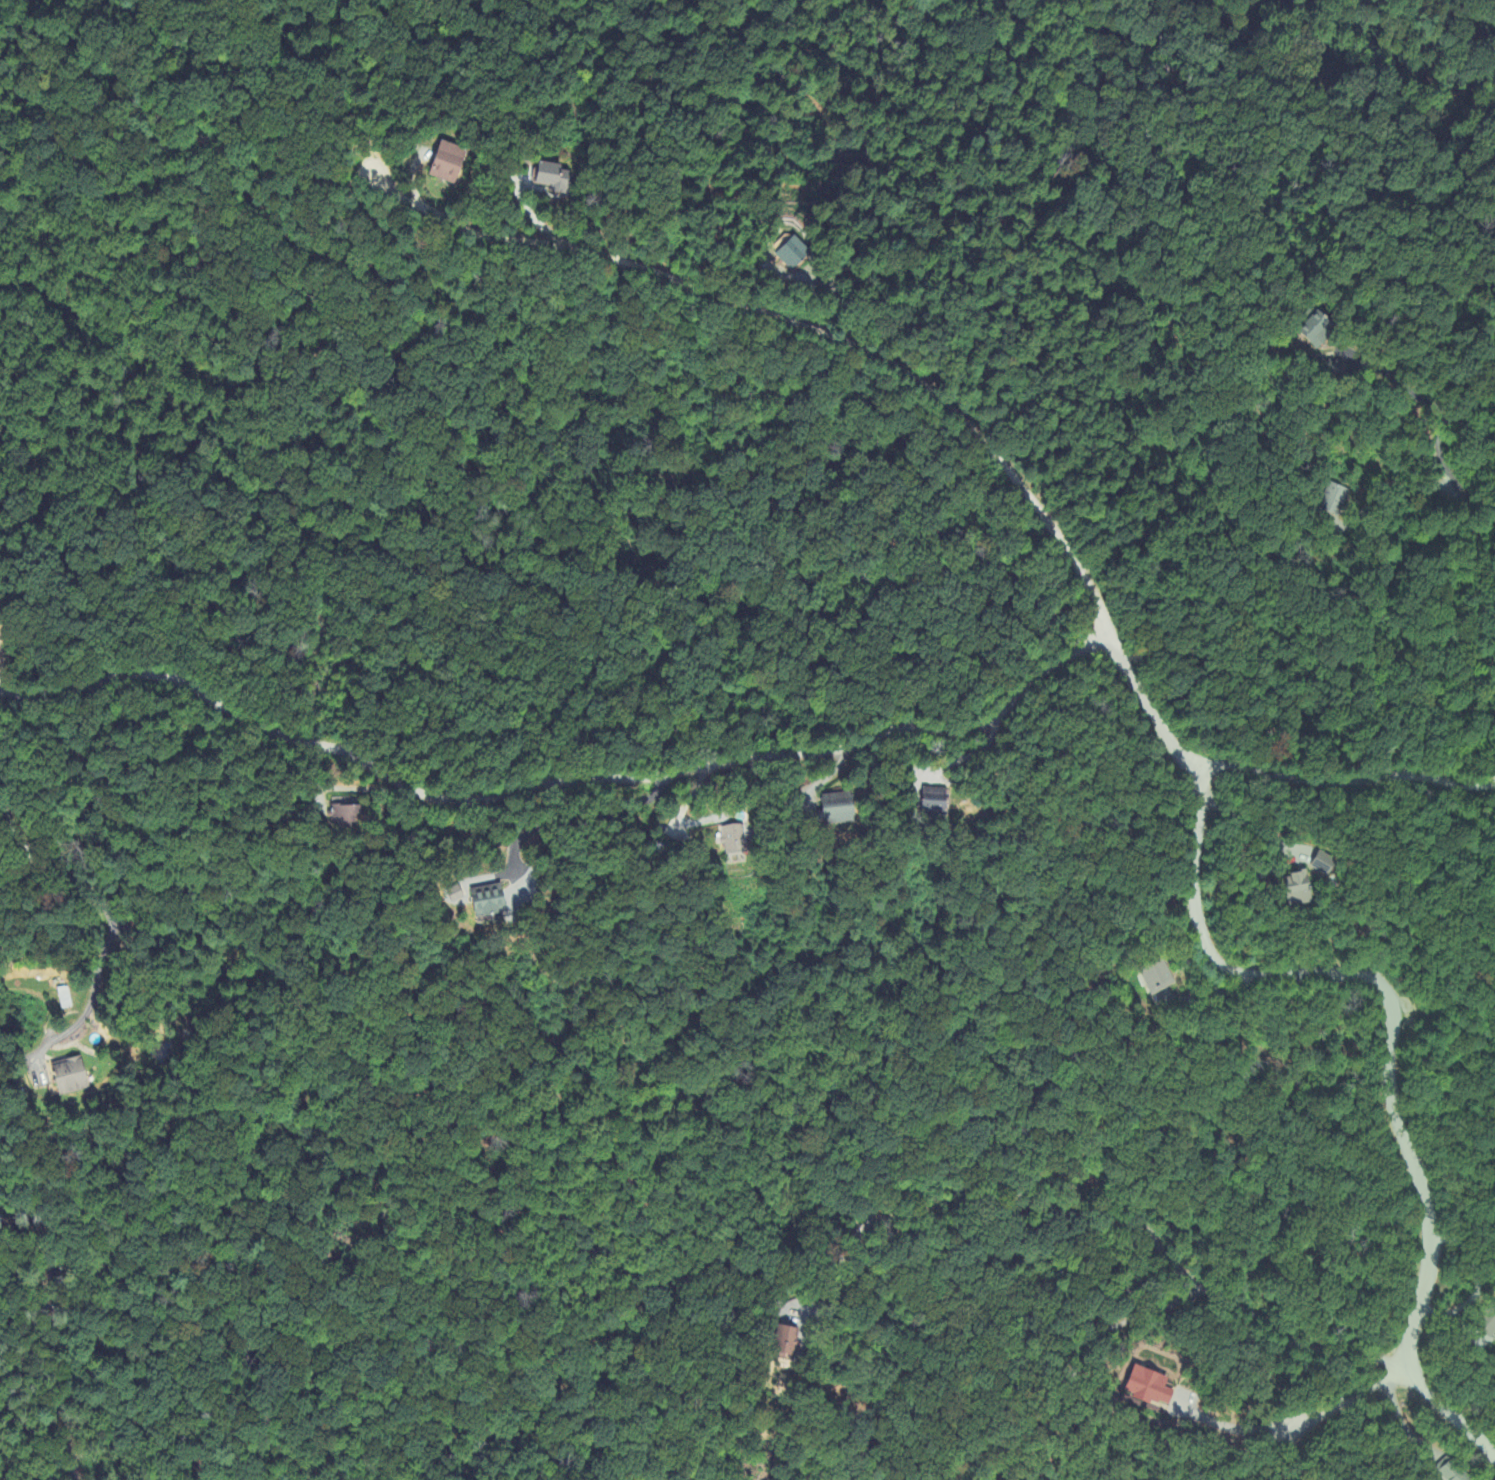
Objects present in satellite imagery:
building: (449, 165)
building: (558, 179)
building: (794, 254)
road: (795, 323)
road: (1402, 386)
road: (1392, 498)
building: (1330, 502)
road: (1462, 503)
road: (1144, 703)
road: (1199, 765)
road: (554, 783)
building: (935, 803)
building: (839, 810)
road: (580, 817)
building: (348, 819)
building: (735, 843)
road: (1289, 854)
building: (1318, 865)
building: (1292, 891)
building: (494, 904)
road: (111, 918)
road: (1316, 975)
building: (1155, 977)
building: (64, 999)
building: (72, 1077)
road: (1151, 1238)
road: (843, 1262)
building: (1486, 1322)
building: (1479, 1343)
building: (780, 1345)
building: (1145, 1389)
road: (1342, 1402)
road: (1229, 1429)
road: (1268, 1456)

